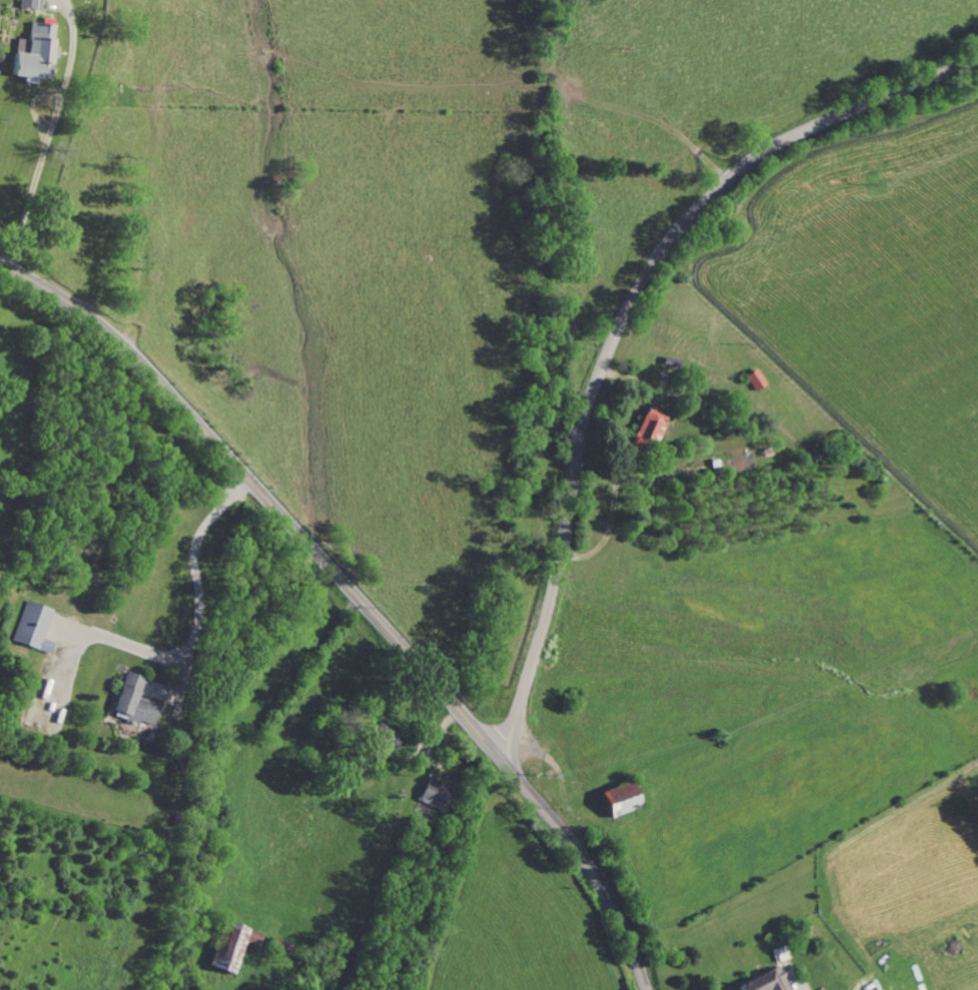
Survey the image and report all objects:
building: (30, 4)
building: (34, 53)
road: (45, 135)
road: (621, 320)
building: (755, 380)
building: (648, 428)
road: (356, 599)
road: (199, 602)
building: (33, 627)
building: (134, 702)
building: (383, 737)
building: (436, 794)
building: (620, 799)
building: (232, 946)
building: (765, 982)
road: (794, 985)

